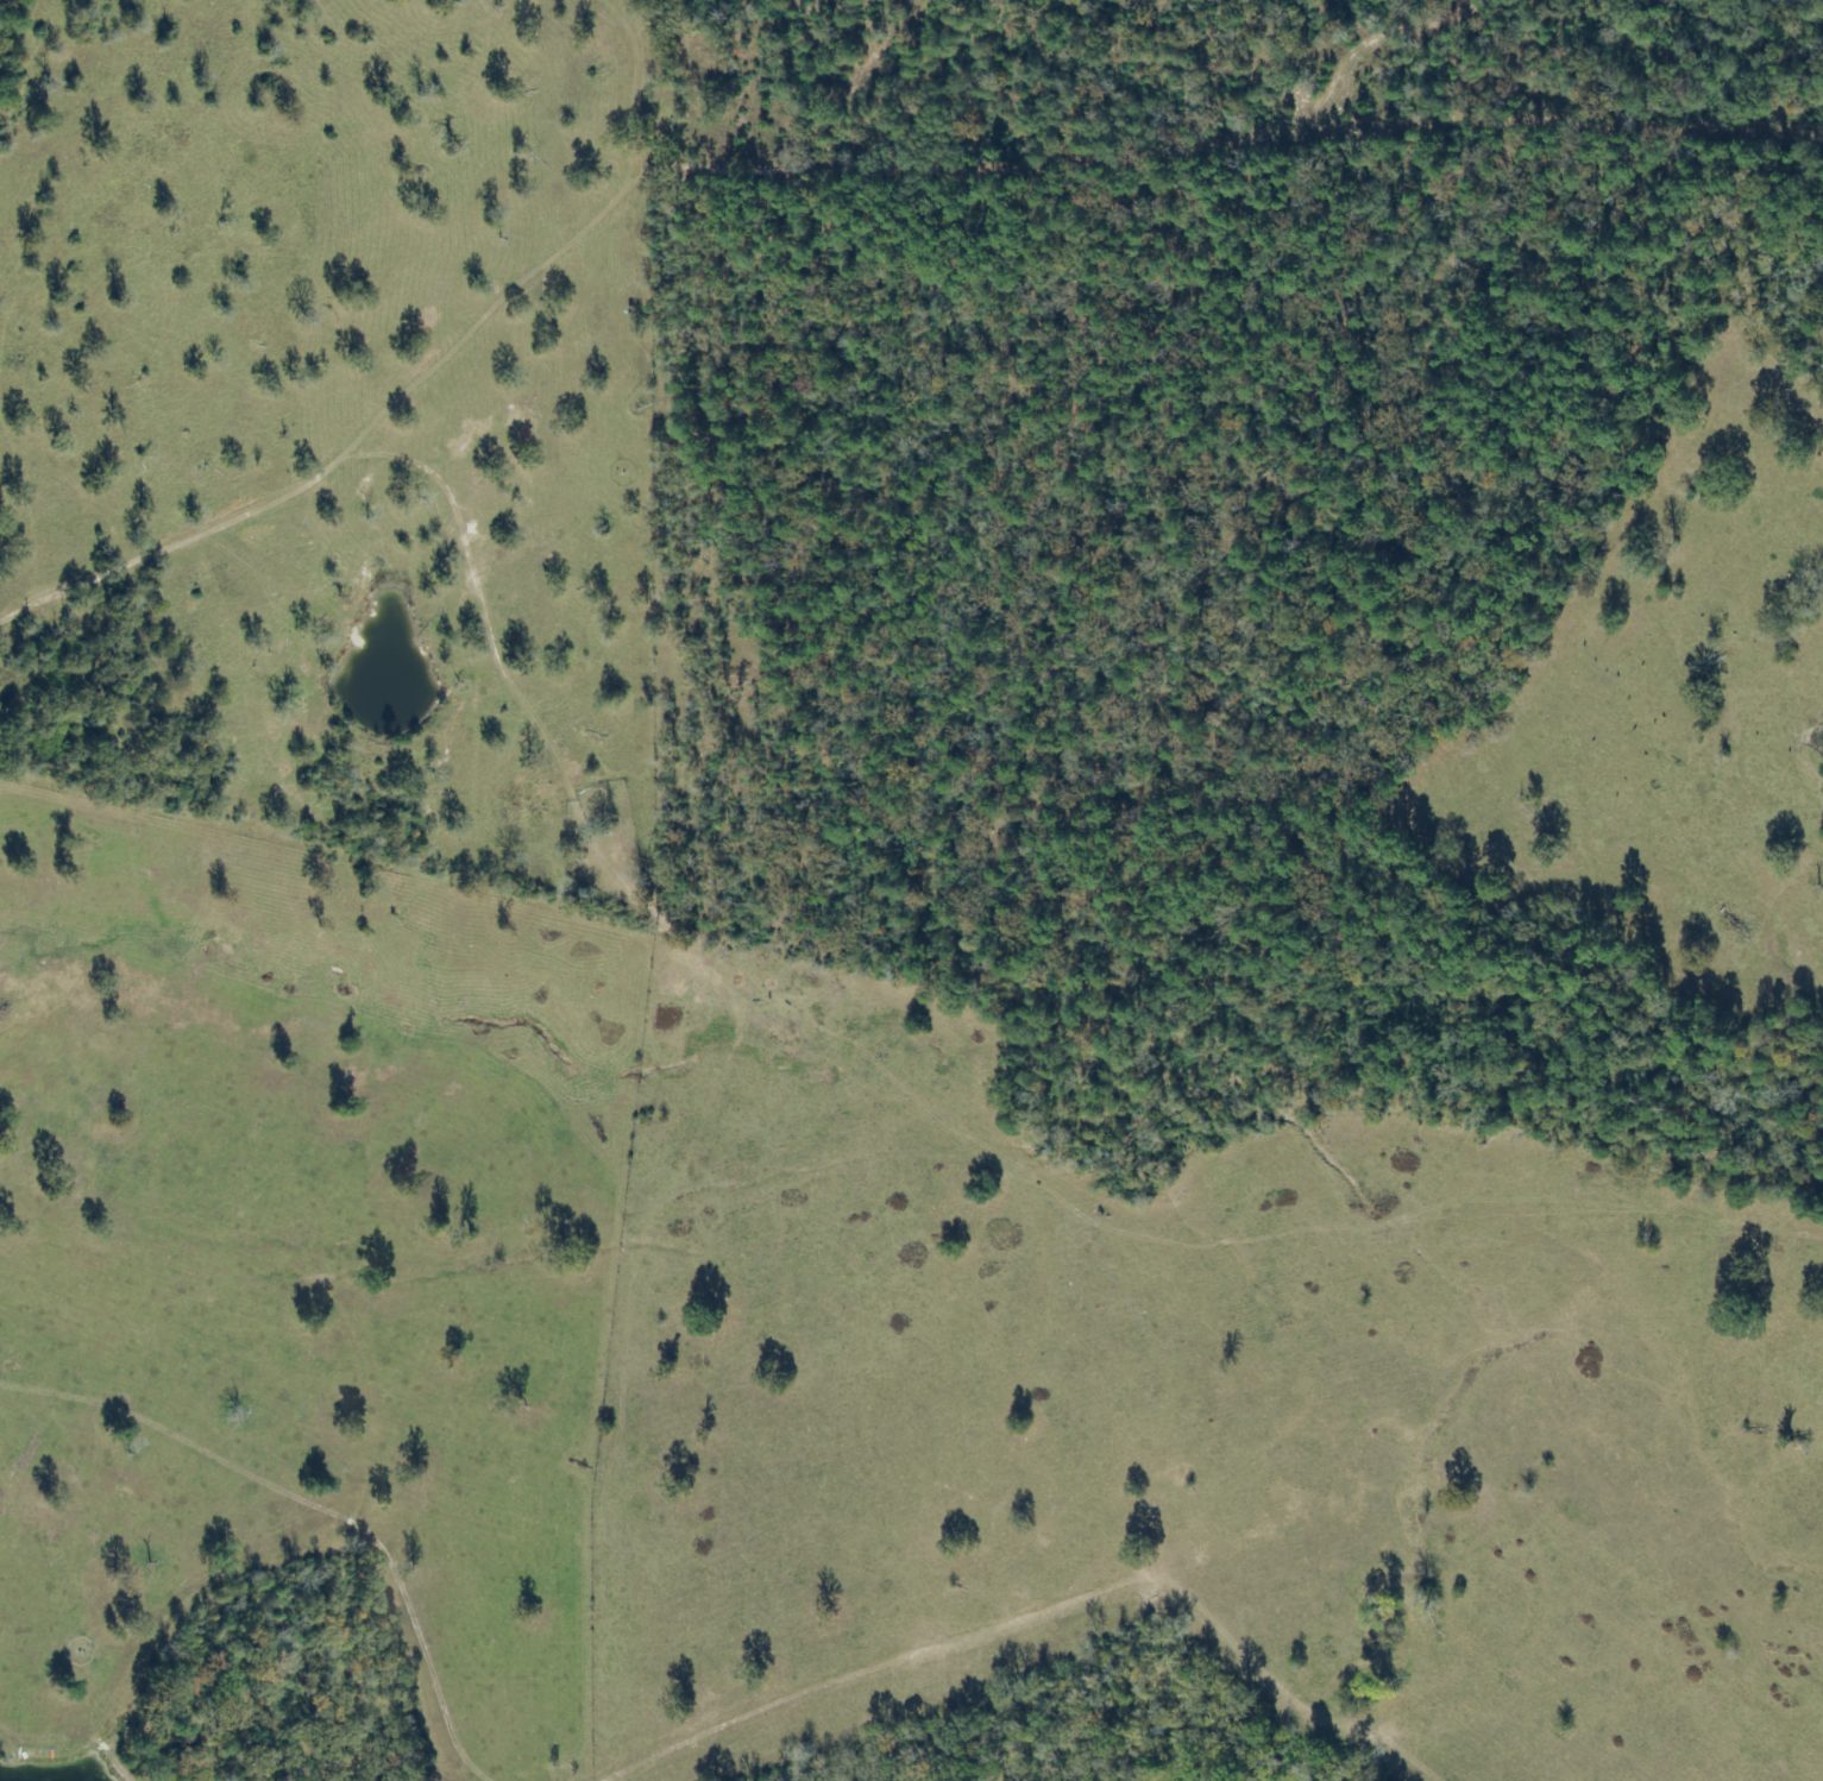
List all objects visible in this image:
road: (838, 1668)

